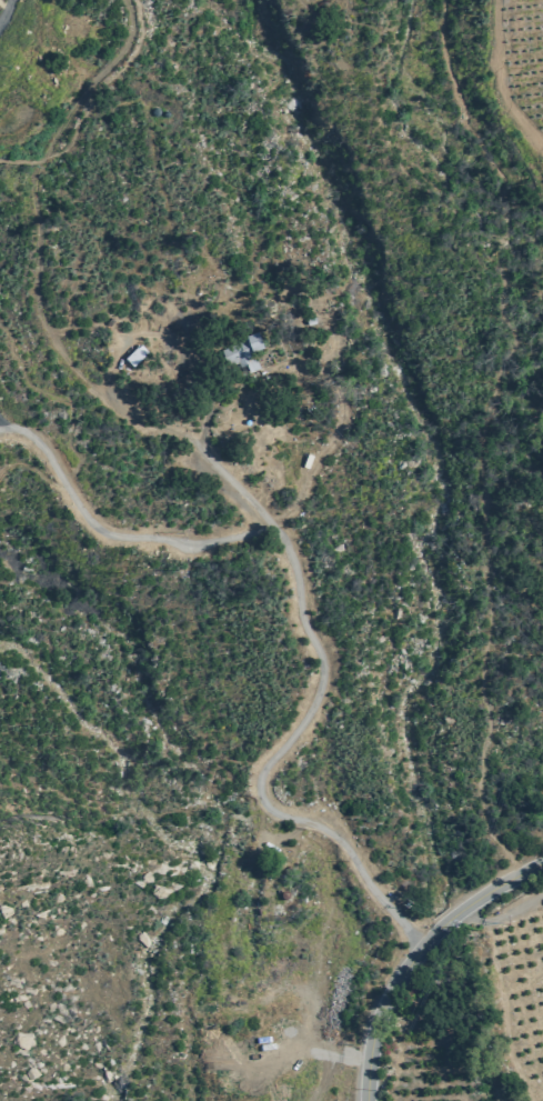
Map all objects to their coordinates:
road: (7, 13)
road: (100, 109)
building: (155, 111)
storage tank: (155, 111)
building: (165, 112)
storage tank: (165, 112)
road: (38, 252)
building: (110, 321)
building: (286, 347)
building: (240, 349)
building: (135, 353)
road: (115, 360)
road: (14, 423)
road: (70, 426)
road: (202, 428)
road: (485, 433)
road: (111, 533)
road: (301, 725)
road: (133, 809)
road: (502, 915)
road: (419, 954)

